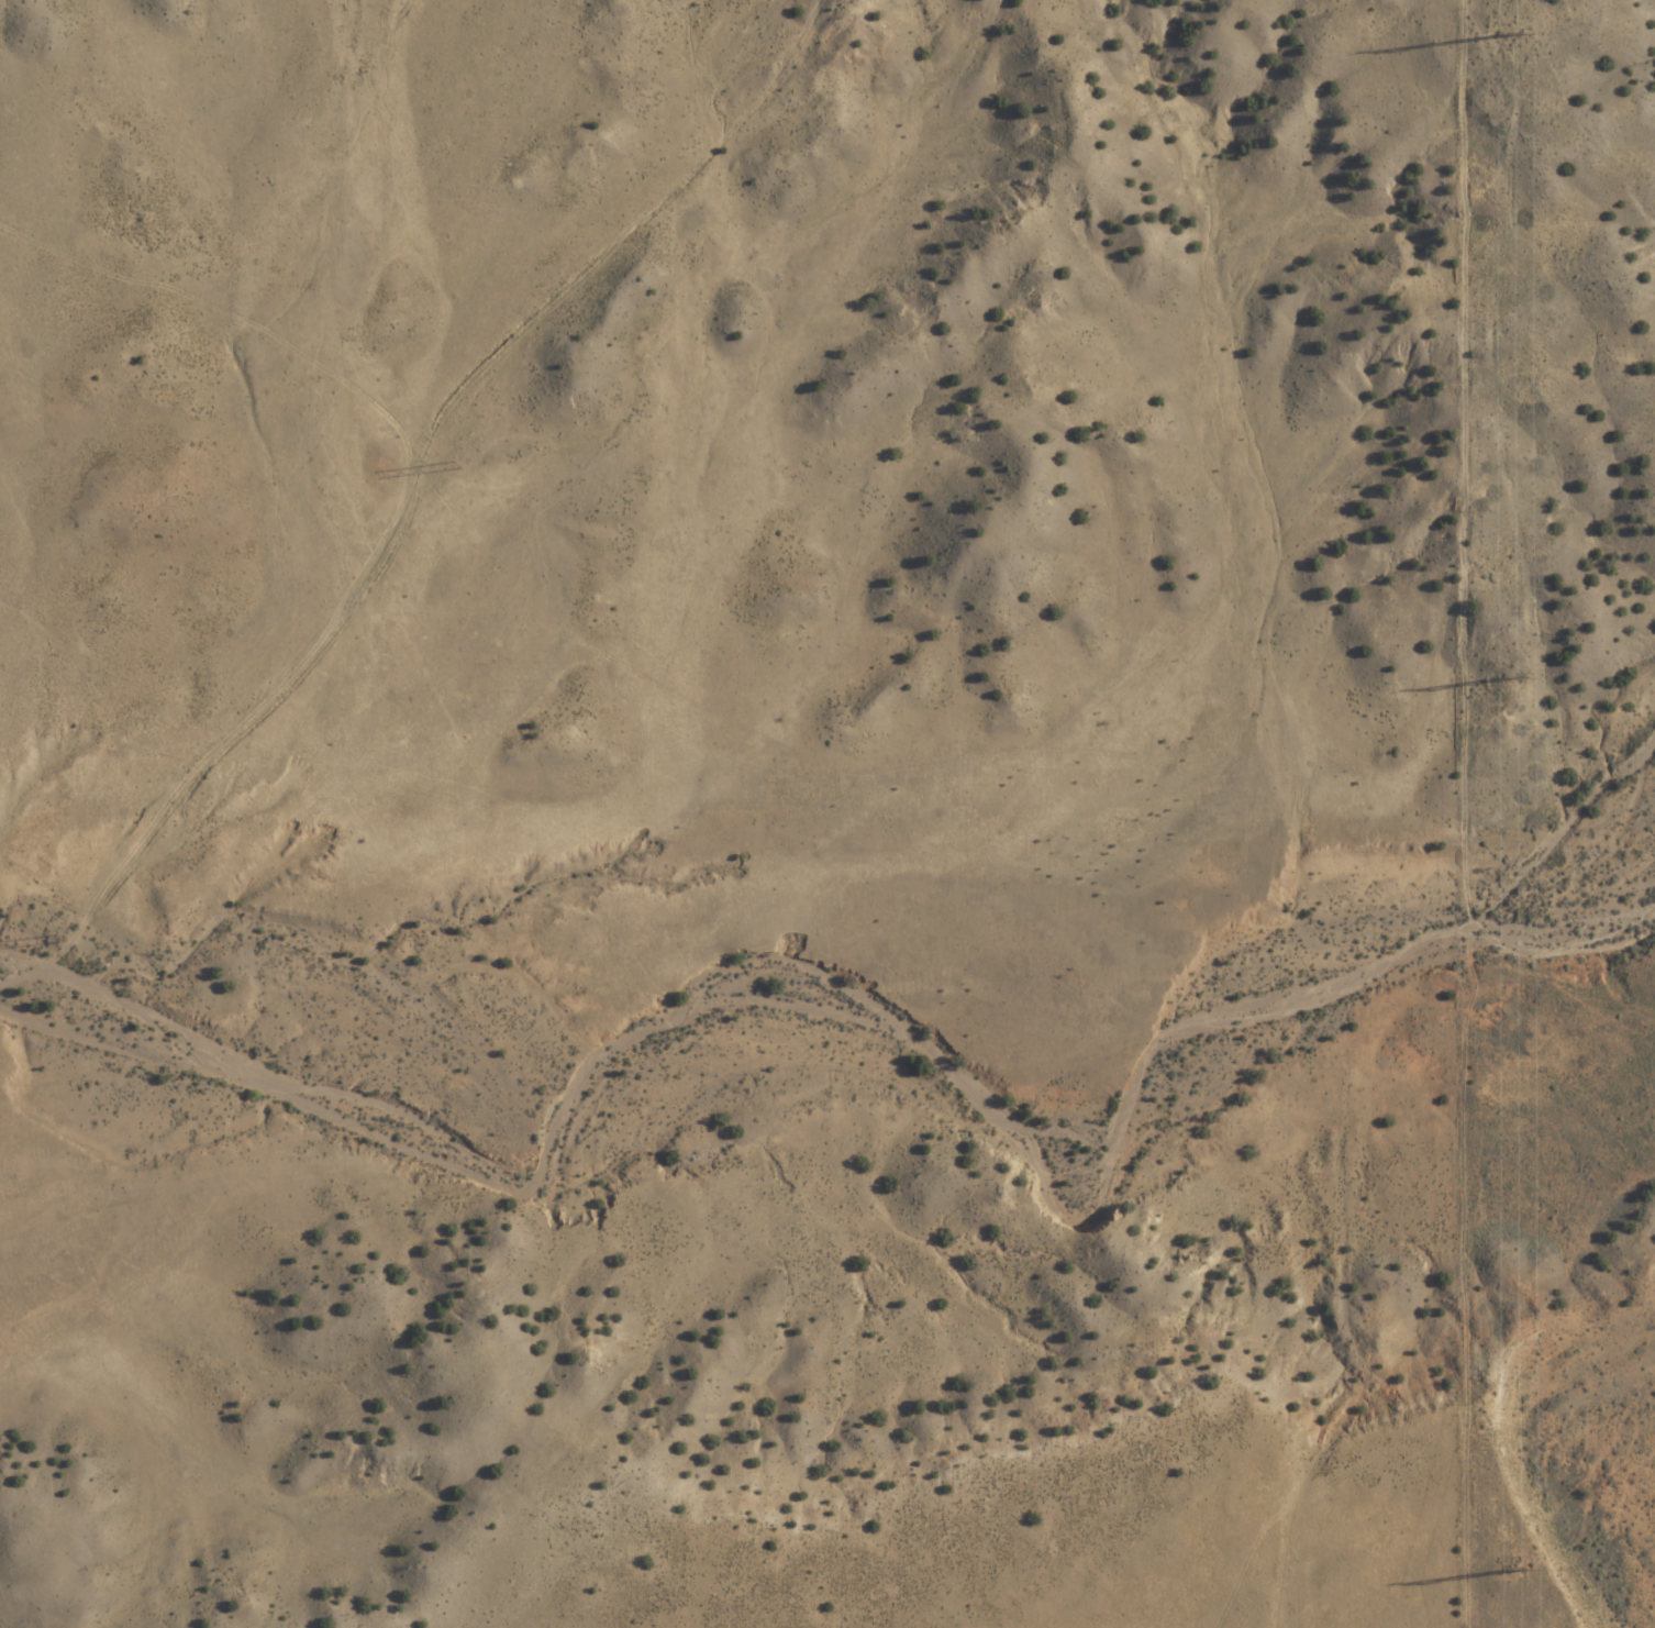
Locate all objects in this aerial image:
power tower: (1517, 36)
power tower: (1522, 678)
power tower: (1528, 1571)

